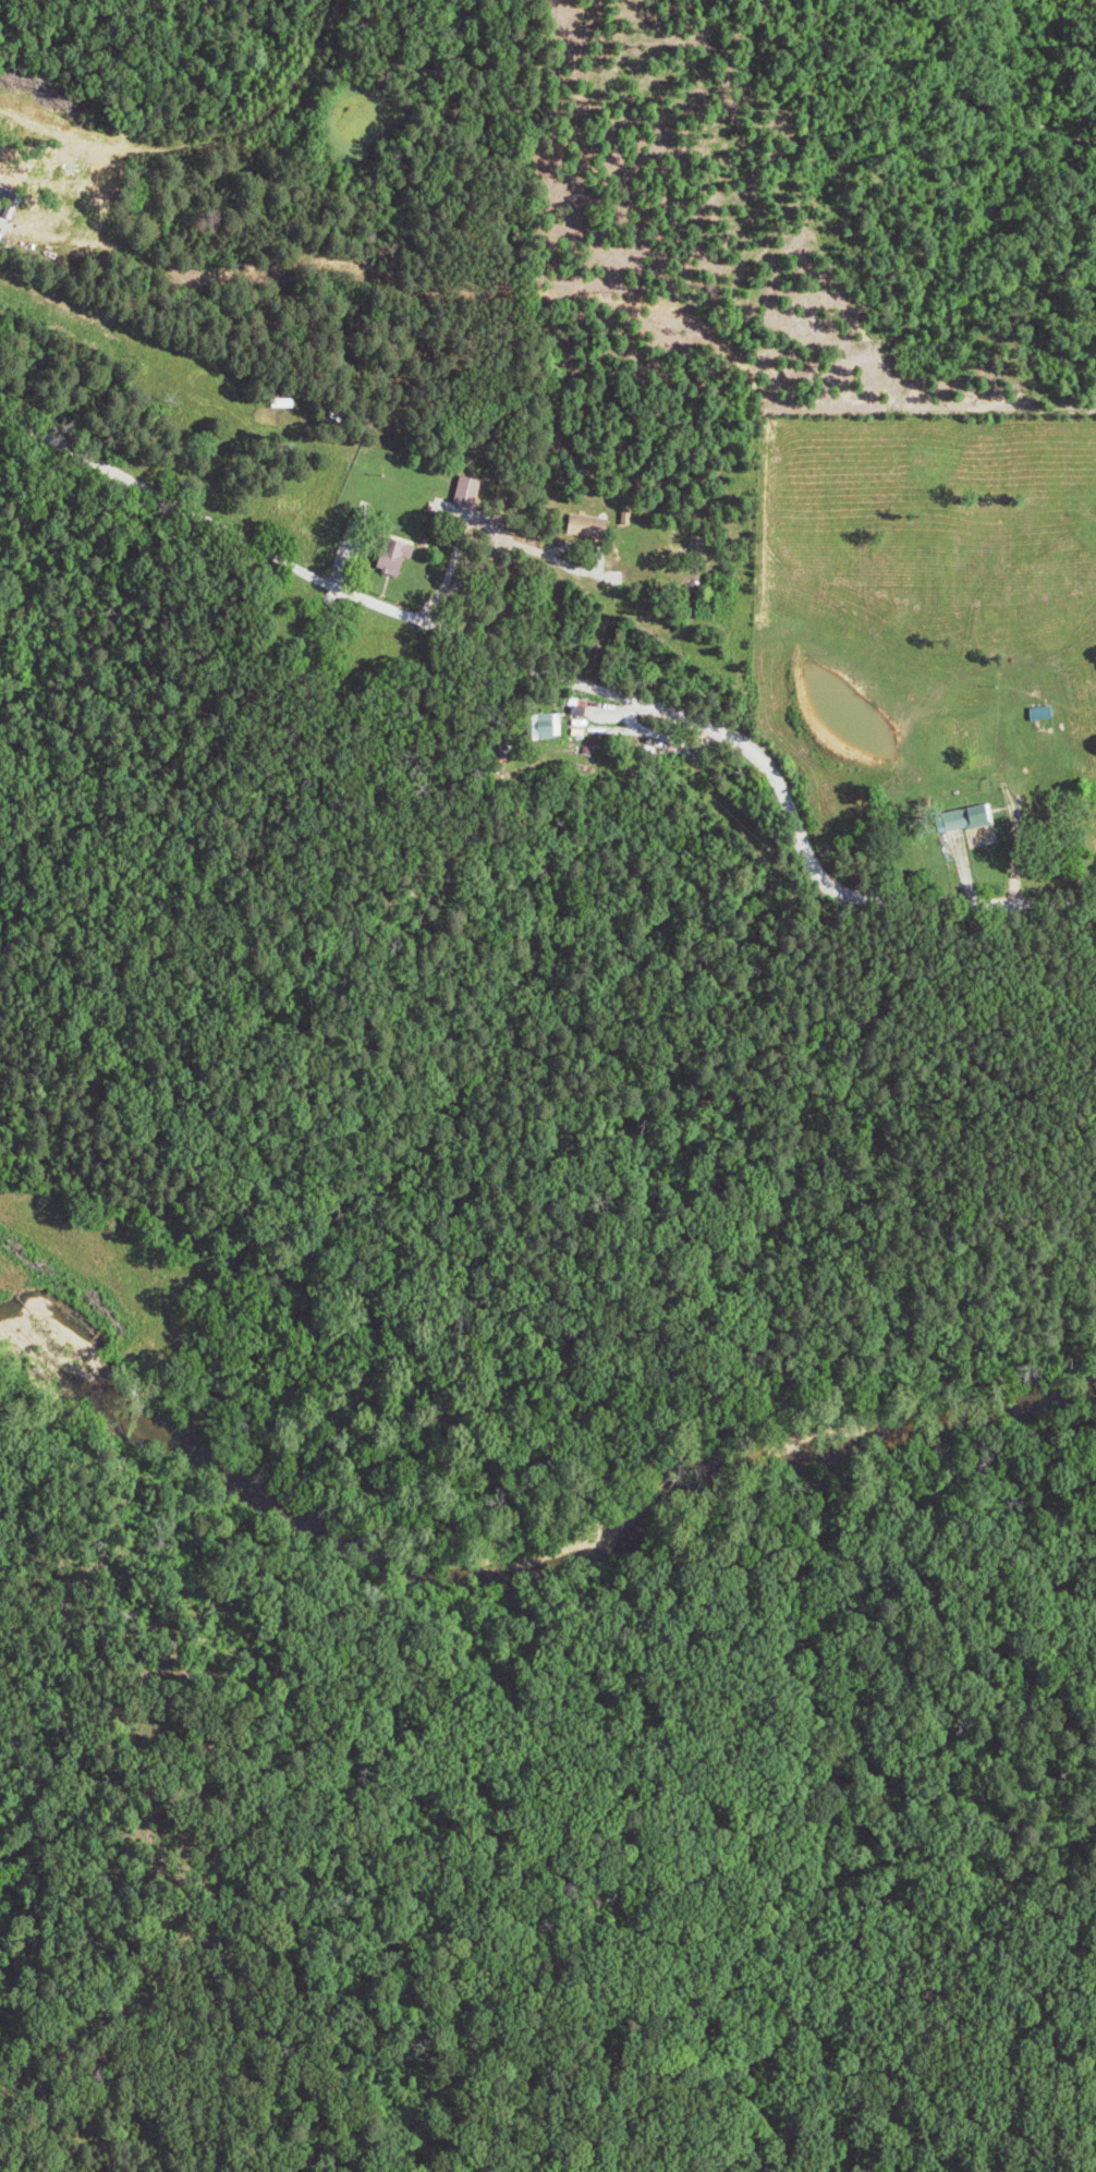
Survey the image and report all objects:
building: (473, 492)
building: (599, 526)
road: (564, 682)
building: (979, 813)

